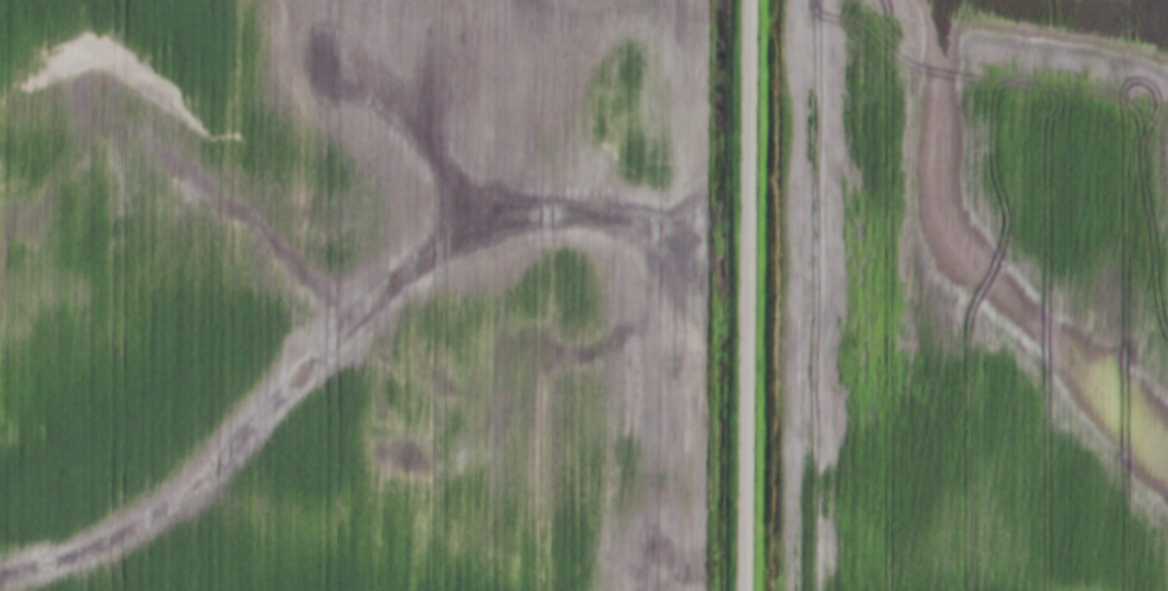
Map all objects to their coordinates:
road: (753, 295)

